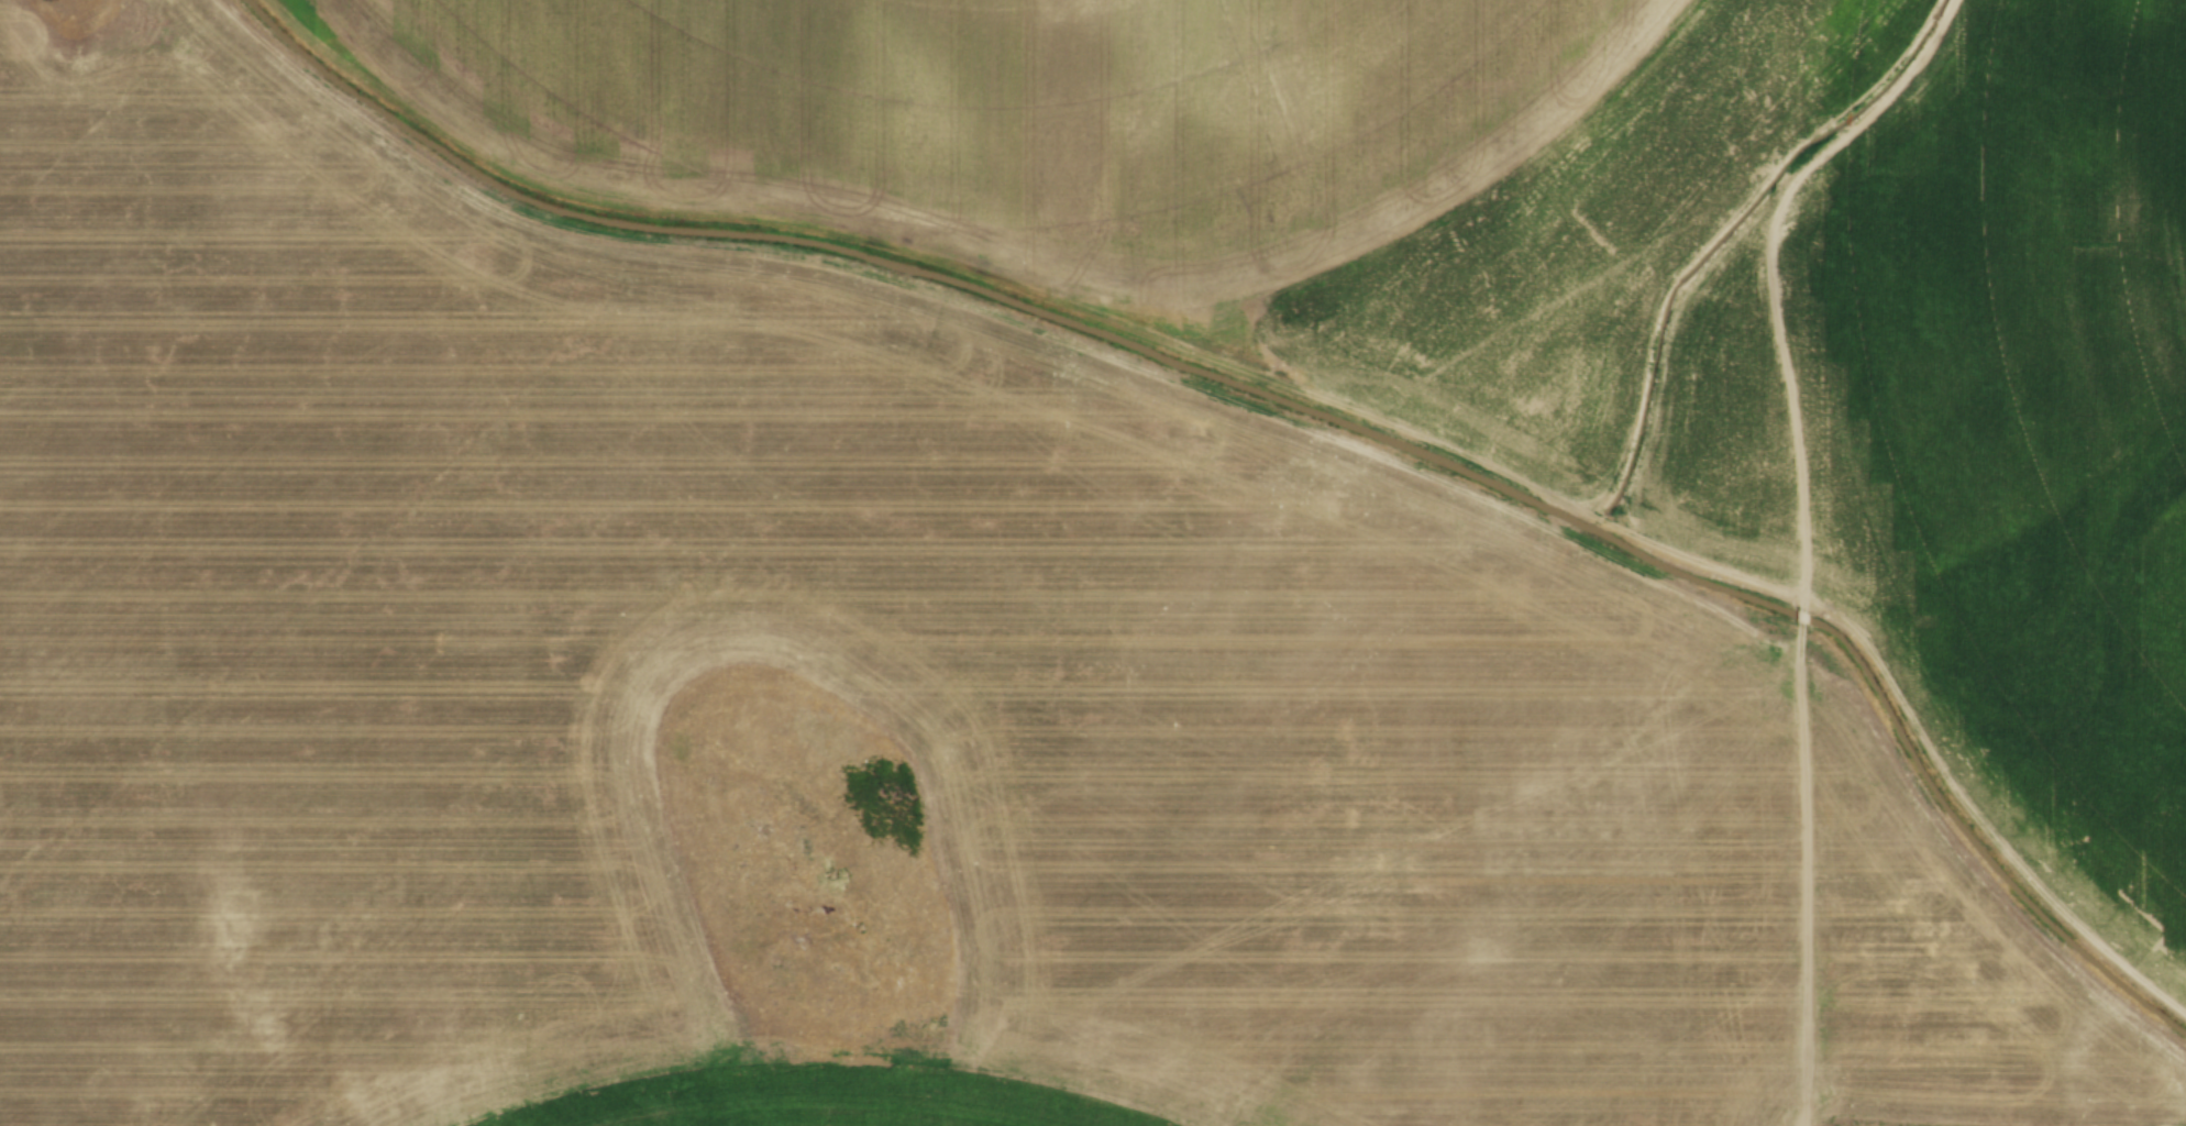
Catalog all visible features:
crop: (1556, 287)
crop: (849, 703)

